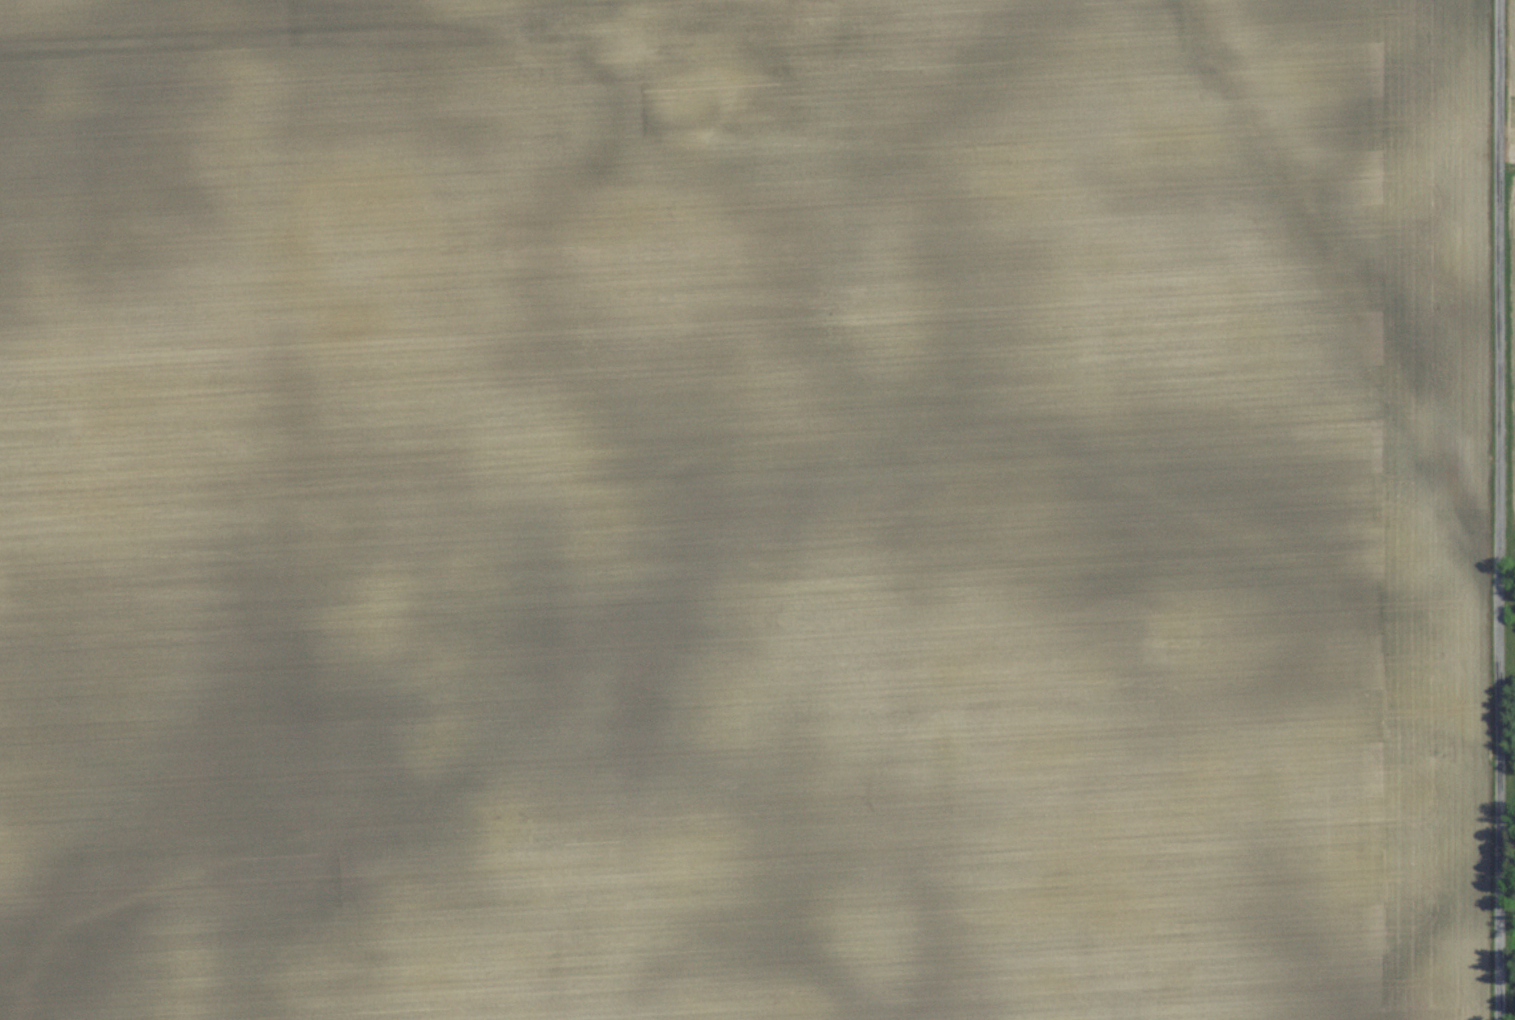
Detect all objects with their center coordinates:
road: (1495, 510)

